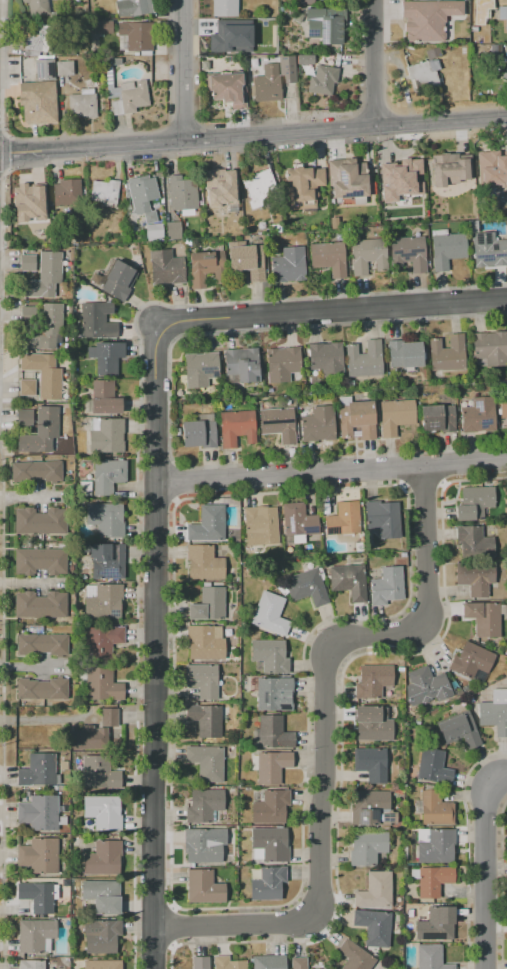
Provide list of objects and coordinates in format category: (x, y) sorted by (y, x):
building: (307, 2)
building: (133, 7)
building: (35, 8)
building: (224, 8)
building: (271, 13)
building: (503, 14)
building: (426, 19)
building: (94, 24)
building: (325, 27)
building: (136, 35)
building: (226, 38)
building: (481, 38)
building: (34, 39)
building: (266, 50)
building: (495, 51)
building: (432, 53)
building: (305, 59)
road: (376, 65)
building: (506, 65)
building: (64, 68)
building: (287, 69)
building: (45, 70)
road: (182, 71)
building: (420, 76)
building: (322, 80)
building: (266, 84)
building: (227, 89)
building: (124, 91)
building: (37, 103)
building: (82, 104)
road: (345, 132)
road: (91, 149)
building: (497, 164)
building: (447, 170)
building: (400, 175)
building: (348, 179)
building: (67, 186)
building: (219, 187)
building: (301, 187)
building: (260, 188)
building: (104, 191)
building: (182, 192)
building: (29, 194)
building: (142, 196)
building: (154, 230)
building: (173, 230)
building: (446, 249)
building: (488, 250)
building: (409, 252)
building: (369, 255)
building: (329, 258)
building: (247, 261)
building: (27, 263)
building: (289, 264)
building: (166, 267)
building: (207, 270)
building: (43, 276)
building: (118, 280)
road: (332, 309)
building: (96, 320)
building: (40, 326)
building: (489, 348)
building: (447, 353)
building: (404, 354)
building: (105, 357)
building: (326, 359)
building: (364, 359)
building: (282, 363)
building: (242, 364)
building: (203, 367)
building: (43, 374)
building: (27, 387)
building: (102, 389)
building: (106, 405)
building: (502, 405)
building: (25, 415)
building: (395, 415)
building: (478, 415)
building: (437, 417)
building: (356, 419)
building: (278, 424)
building: (318, 424)
building: (236, 427)
building: (199, 431)
building: (38, 432)
building: (106, 435)
building: (36, 472)
road: (330, 474)
building: (107, 475)
road: (28, 497)
building: (473, 503)
building: (383, 518)
building: (106, 519)
building: (343, 519)
building: (298, 520)
building: (40, 521)
building: (207, 524)
building: (260, 525)
building: (473, 543)
building: (105, 559)
building: (40, 561)
building: (204, 563)
building: (475, 577)
building: (349, 581)
road: (30, 583)
building: (306, 586)
building: (386, 586)
building: (102, 601)
building: (39, 604)
building: (208, 604)
building: (270, 613)
building: (483, 618)
building: (102, 641)
building: (205, 642)
building: (42, 644)
road: (153, 644)
building: (269, 655)
building: (471, 662)
building: (202, 680)
building: (372, 681)
building: (102, 684)
building: (425, 686)
building: (42, 688)
building: (272, 692)
building: (494, 712)
building: (205, 719)
building: (372, 724)
building: (459, 729)
building: (94, 733)
building: (273, 733)
road: (327, 737)
building: (117, 740)
building: (206, 762)
building: (370, 764)
building: (432, 766)
building: (271, 767)
building: (38, 770)
building: (99, 773)
building: (63, 800)
building: (204, 806)
building: (270, 807)
building: (371, 809)
building: (435, 809)
building: (103, 812)
building: (38, 813)
building: (270, 843)
building: (203, 845)
building: (435, 845)
building: (367, 847)
building: (39, 855)
building: (103, 858)
road: (484, 867)
building: (433, 881)
building: (268, 883)
building: (204, 887)
building: (375, 890)
building: (37, 896)
building: (102, 896)
building: (436, 924)
building: (373, 927)
building: (36, 935)
building: (101, 935)
building: (354, 956)
building: (430, 957)
building: (200, 962)
building: (268, 962)
building: (227, 963)
building: (298, 963)
building: (31, 964)
building: (102, 964)

